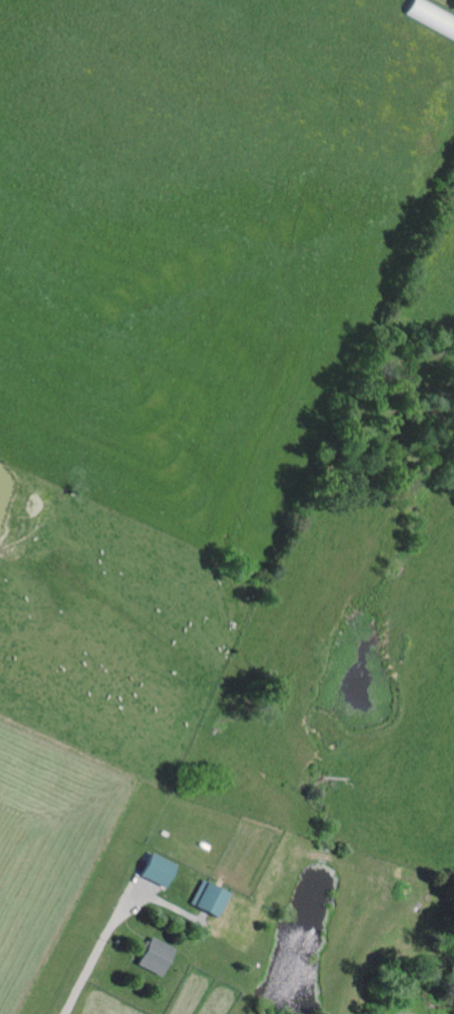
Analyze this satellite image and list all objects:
building: (155, 869)
building: (208, 899)
building: (153, 956)

